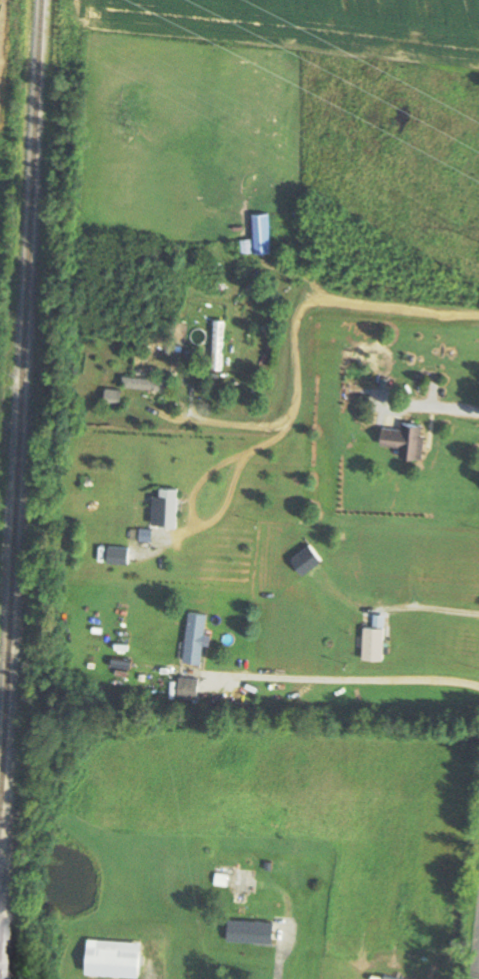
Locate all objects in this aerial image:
building: (264, 233)
building: (219, 343)
building: (150, 382)
building: (116, 397)
building: (408, 436)
railway: (20, 445)
building: (170, 506)
building: (120, 555)
building: (309, 558)
building: (197, 637)
building: (376, 642)
building: (190, 688)
building: (255, 931)
building: (117, 957)
road: (477, 968)

